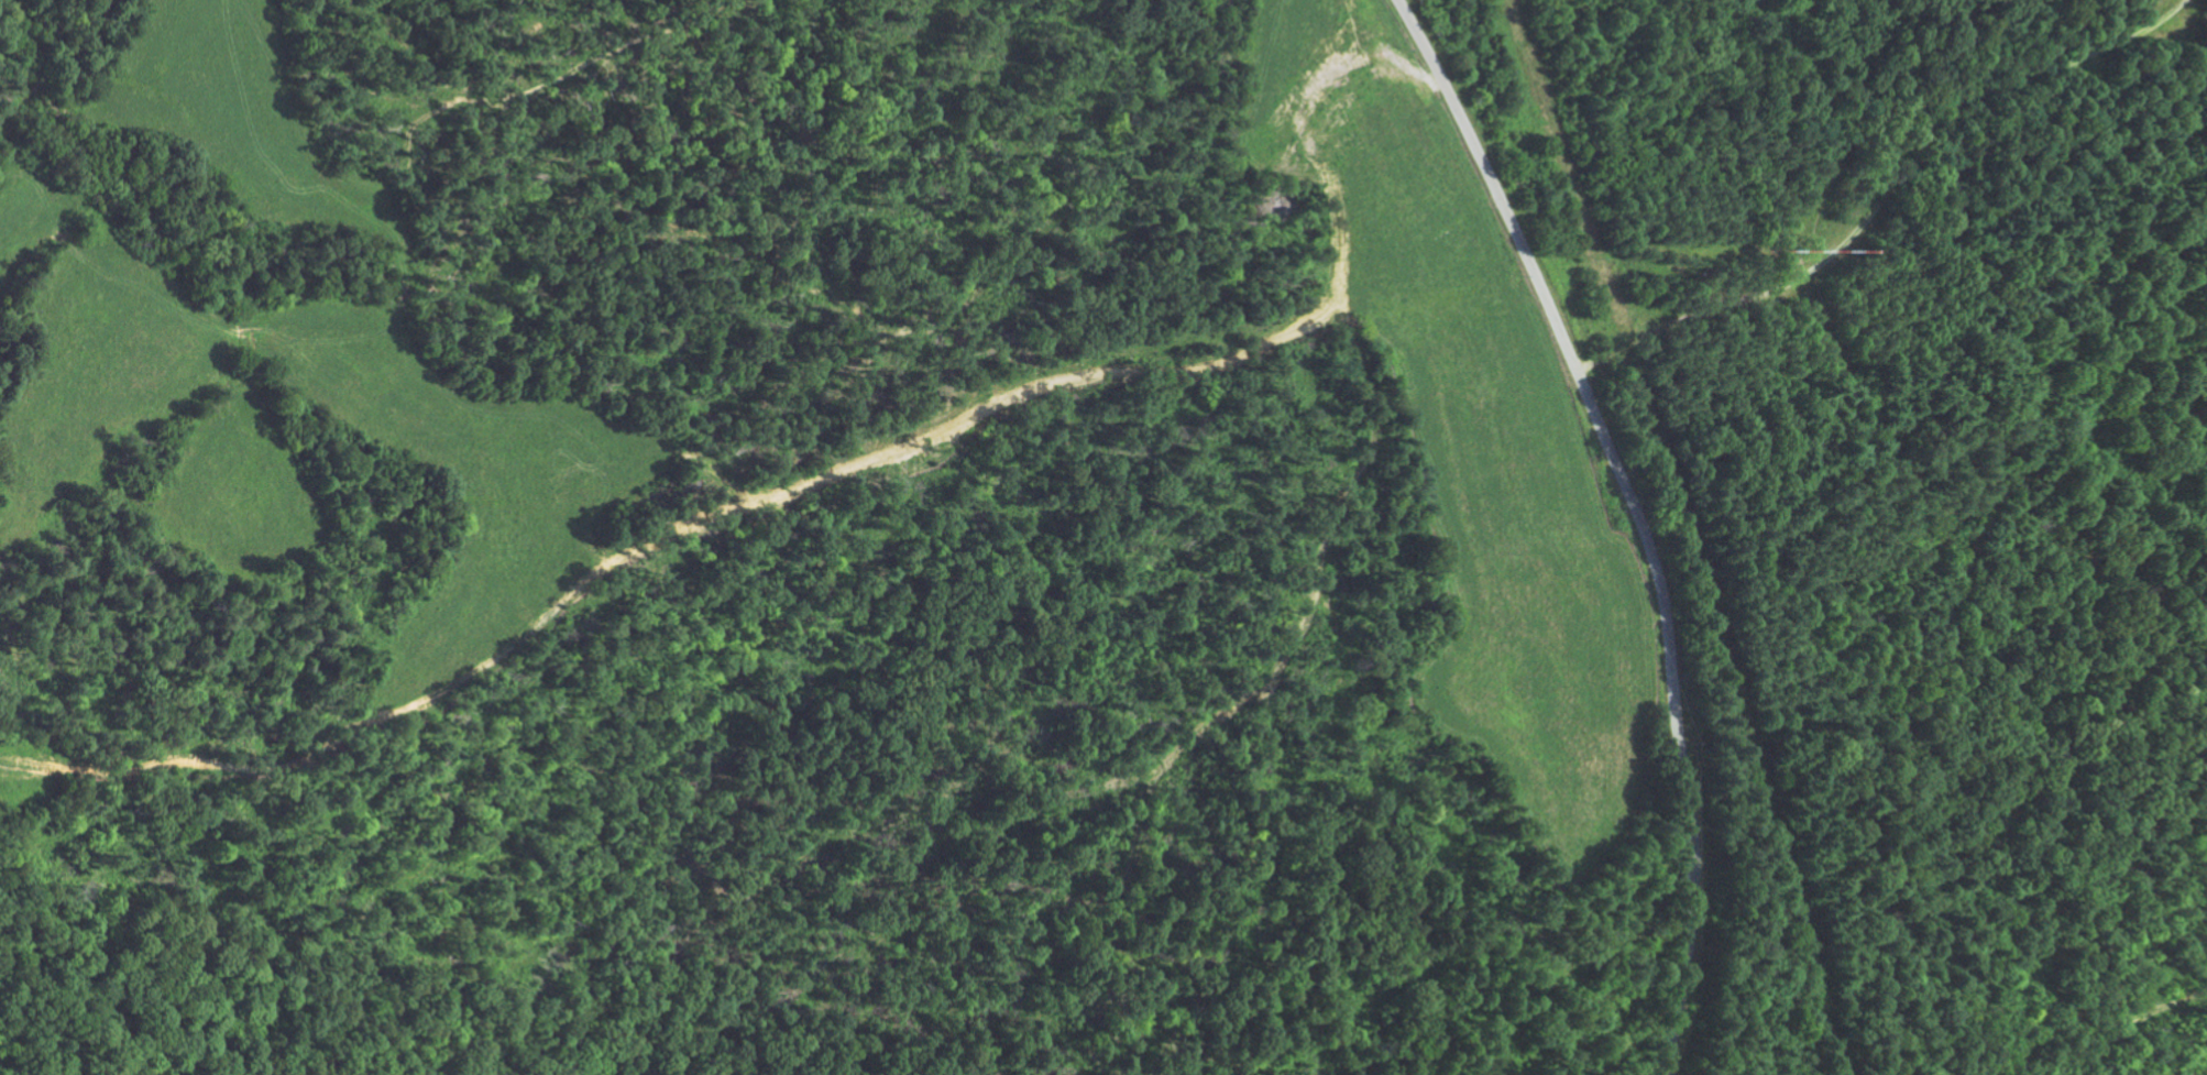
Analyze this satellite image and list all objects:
road: (1638, 514)

